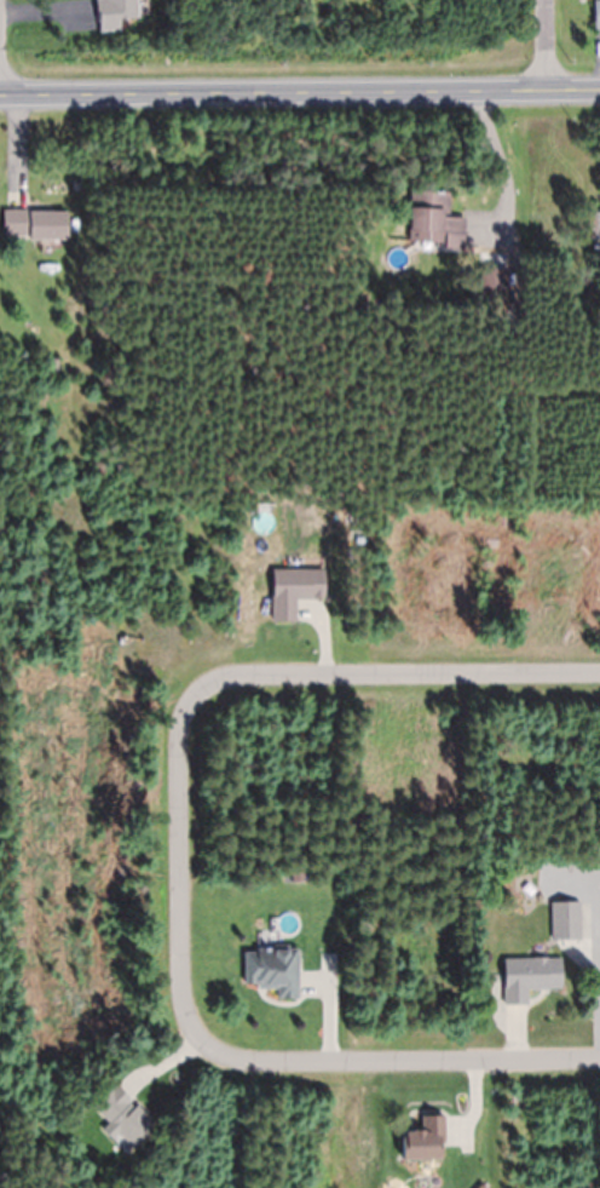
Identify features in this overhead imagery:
building: (596, 12)
building: (115, 13)
road: (543, 45)
road: (299, 92)
building: (434, 219)
building: (35, 223)
building: (593, 224)
building: (294, 590)
road: (386, 675)
road: (179, 873)
building: (565, 919)
building: (272, 969)
building: (529, 977)
road: (392, 1060)
building: (122, 1118)
building: (425, 1140)

